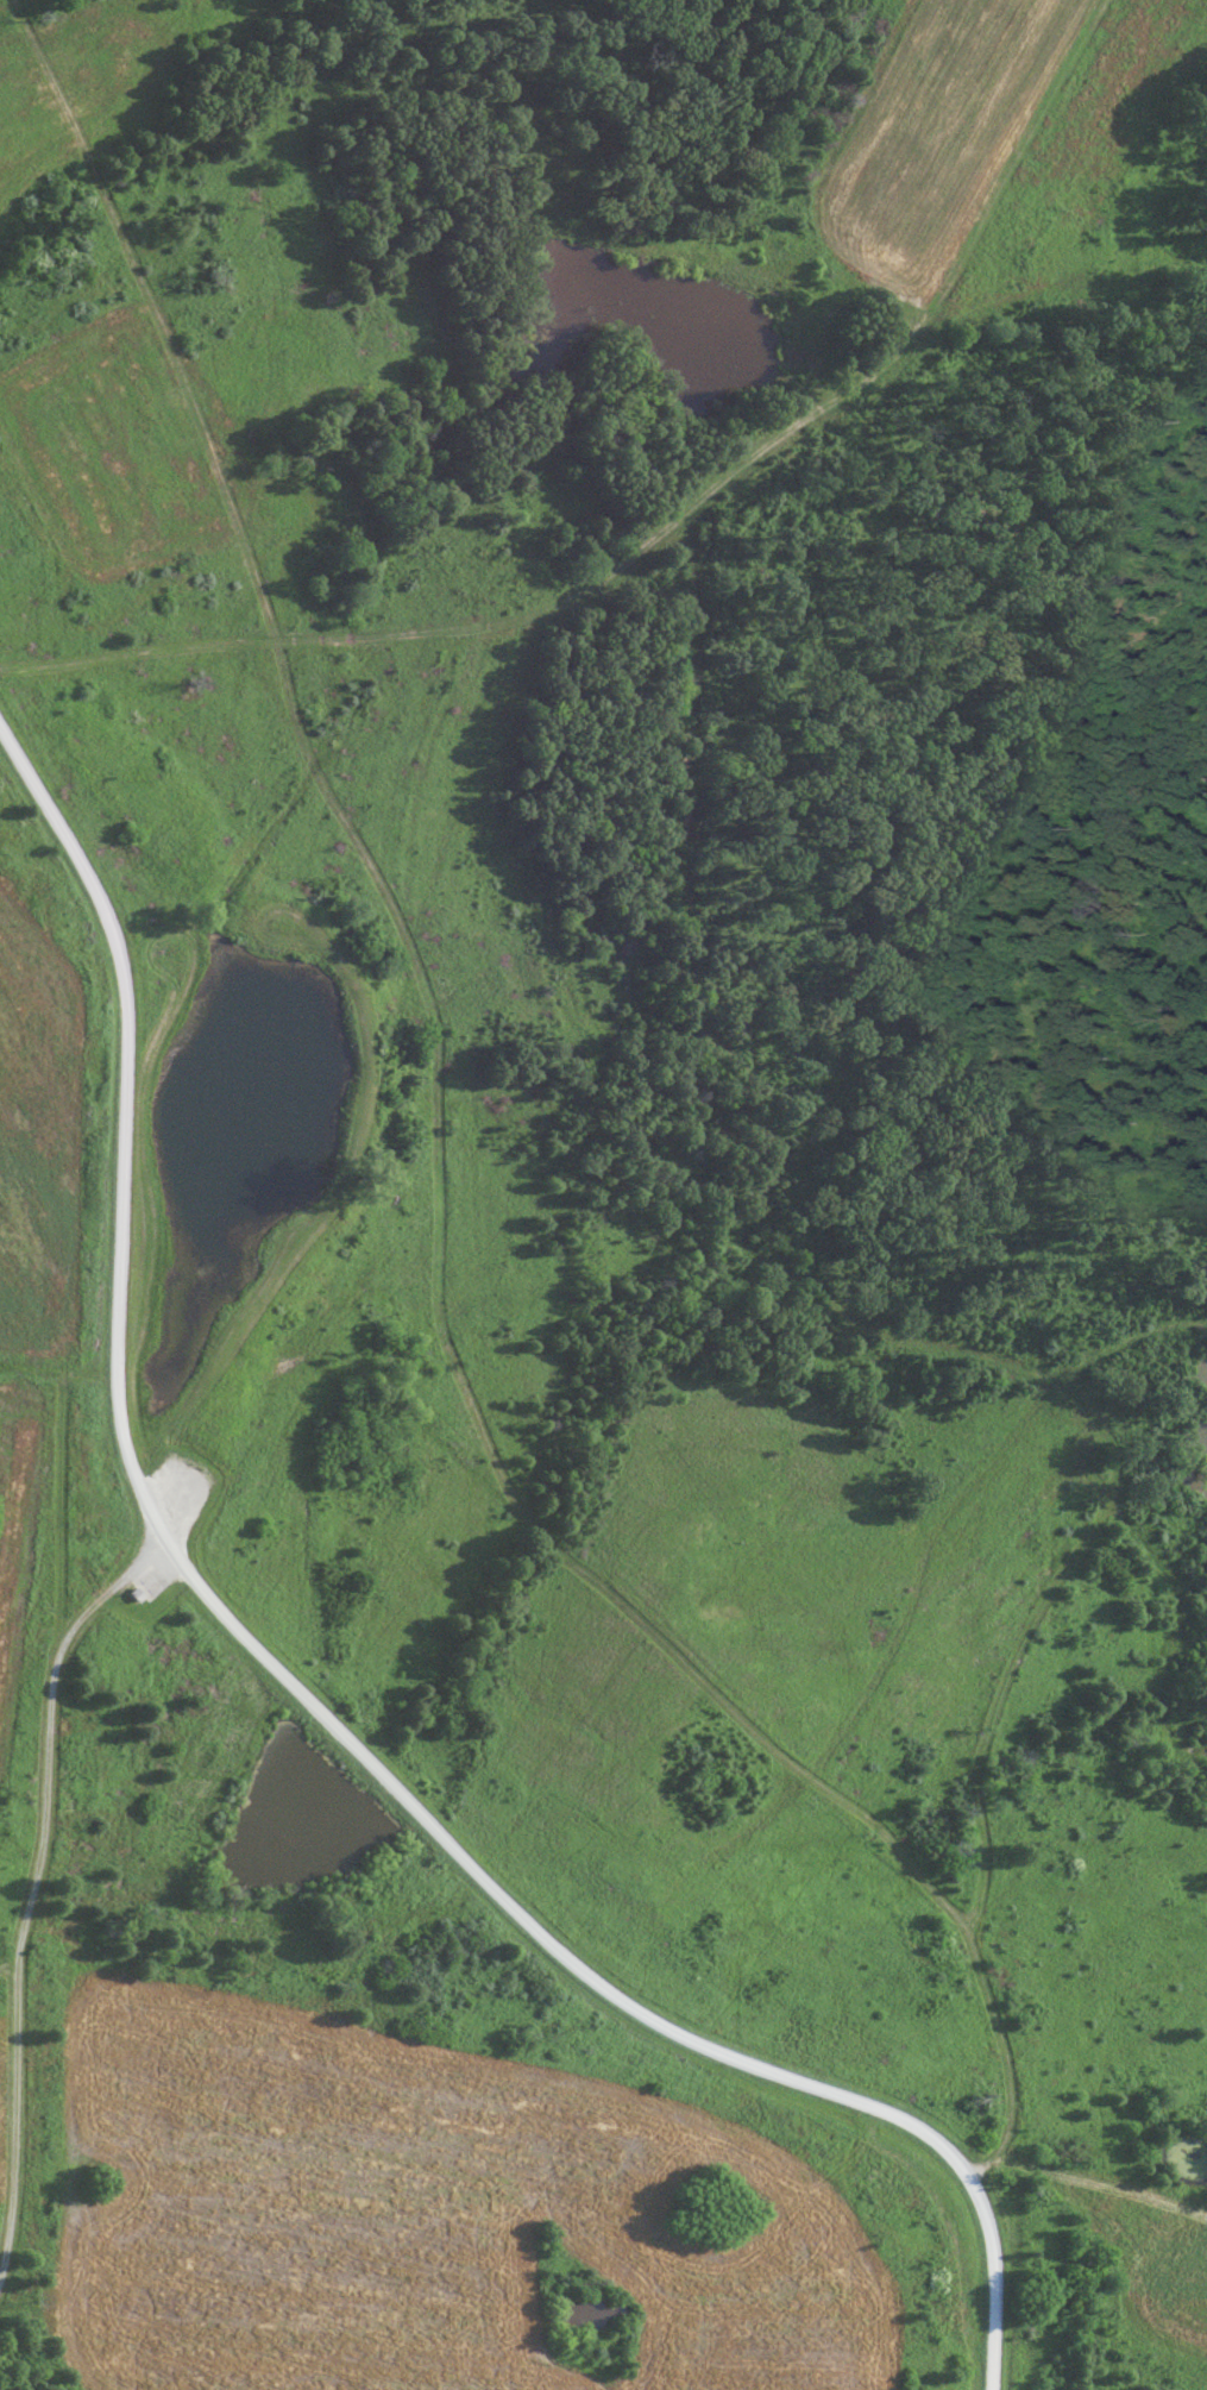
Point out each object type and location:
road: (296, 1696)

